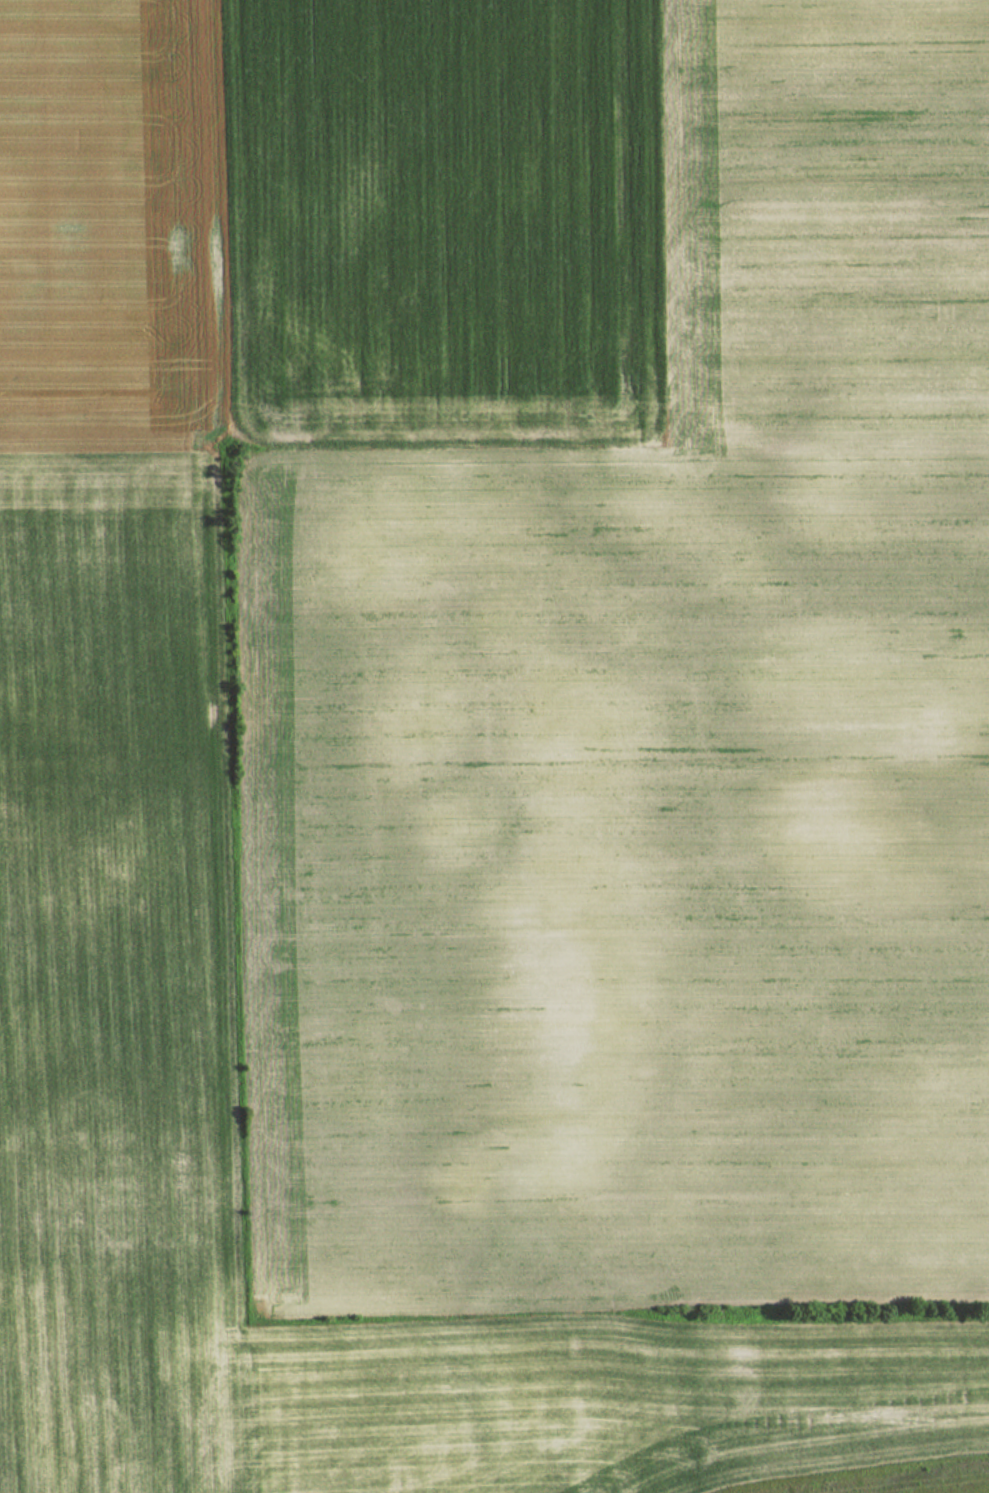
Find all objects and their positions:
crop: (493, 730)

